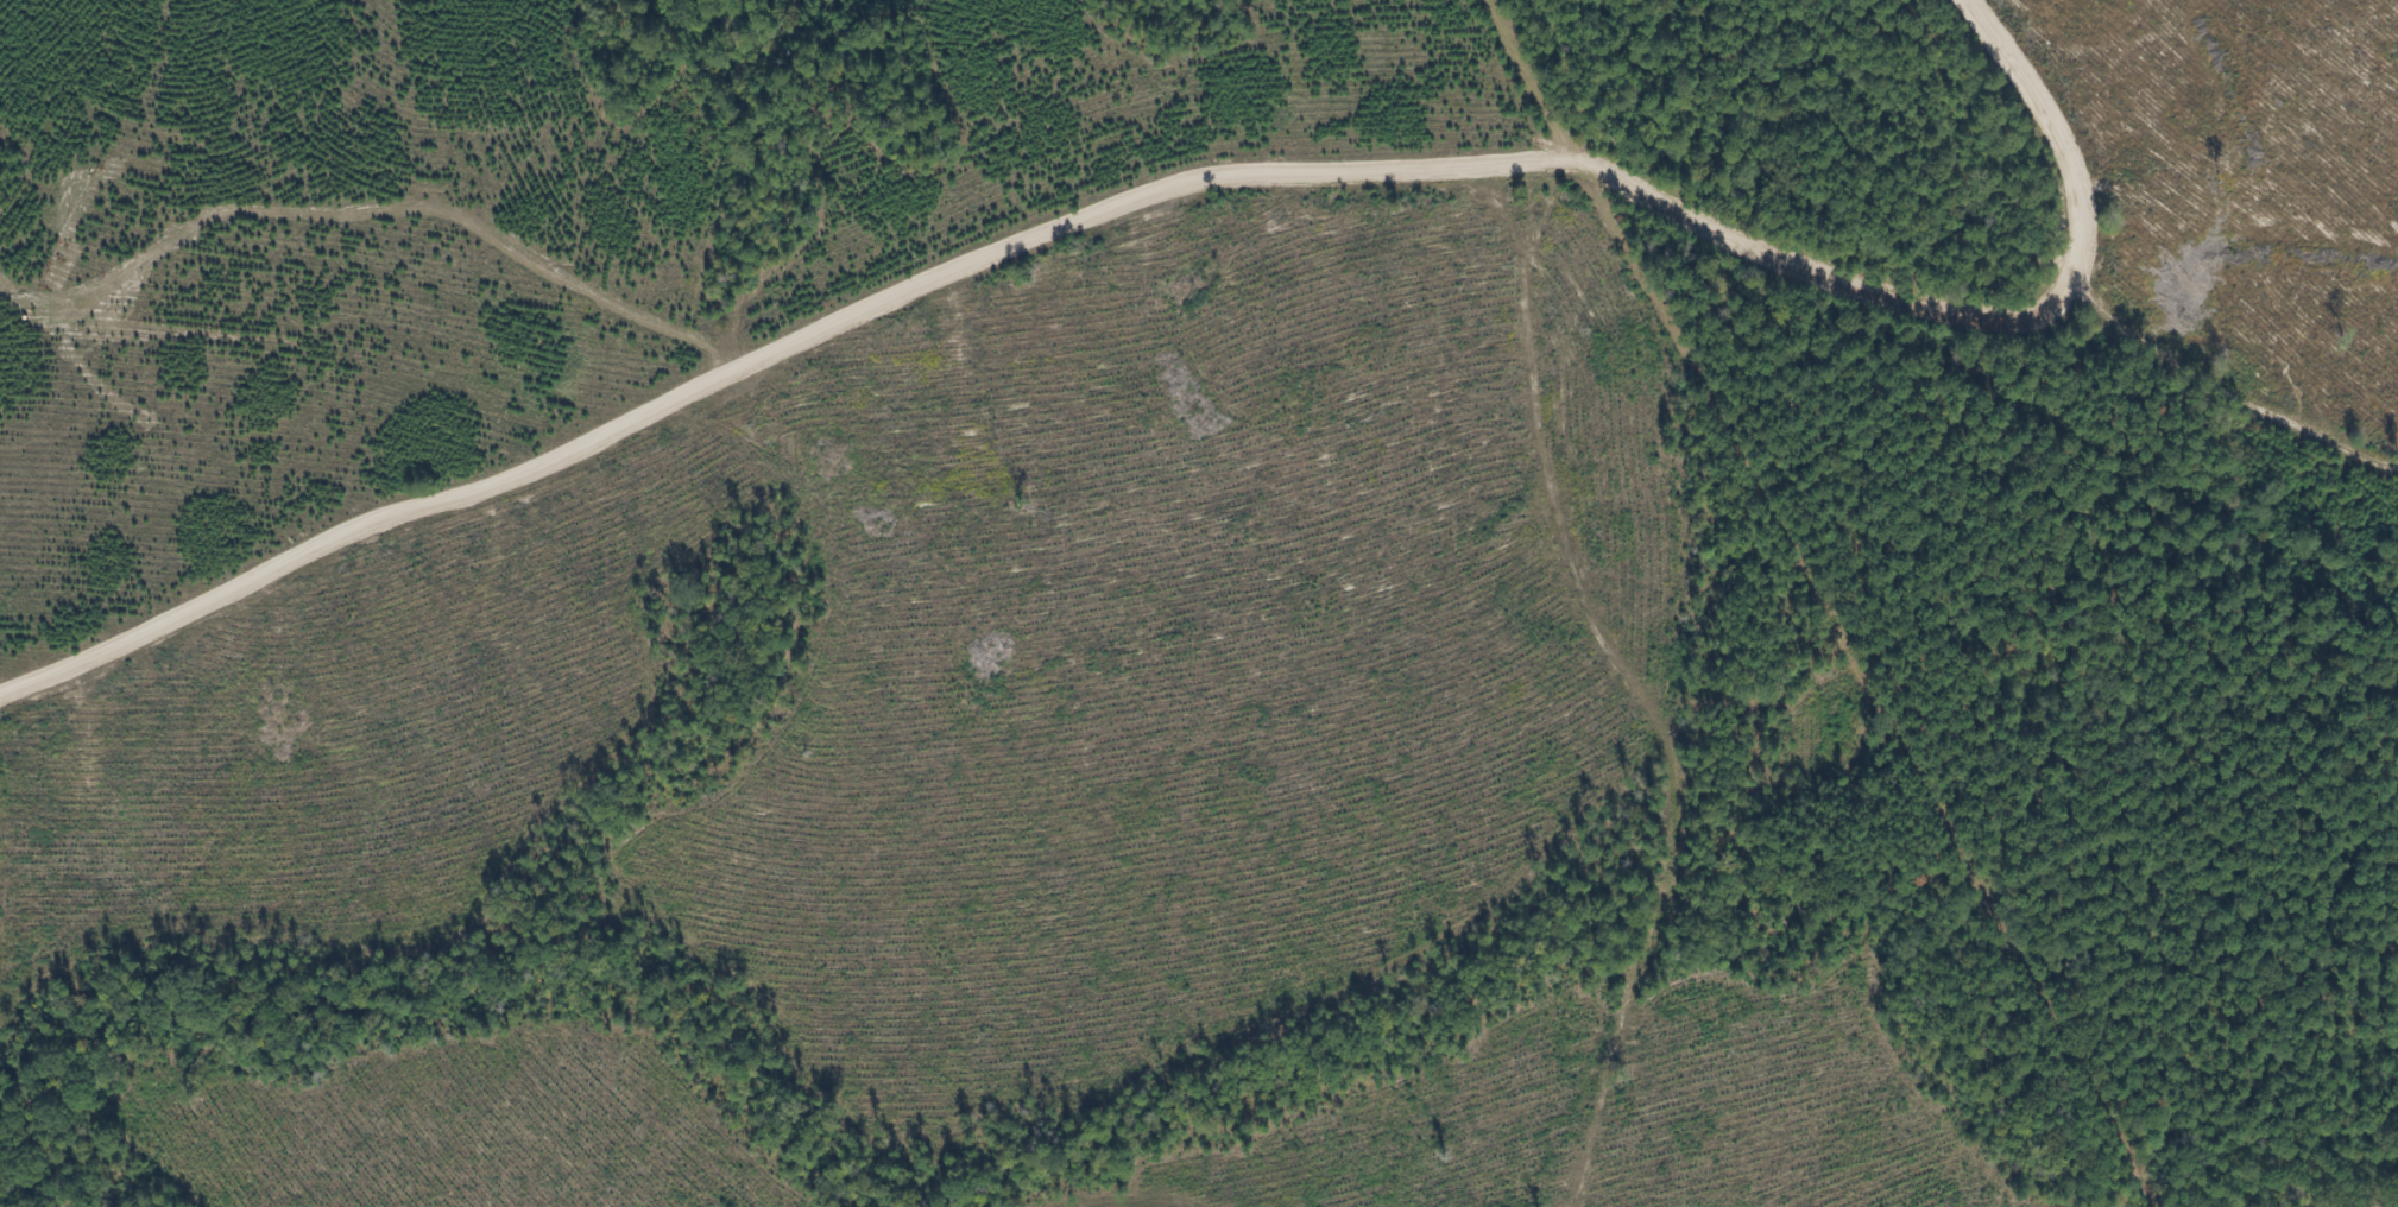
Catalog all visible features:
road: (1566, 162)
road: (367, 519)

